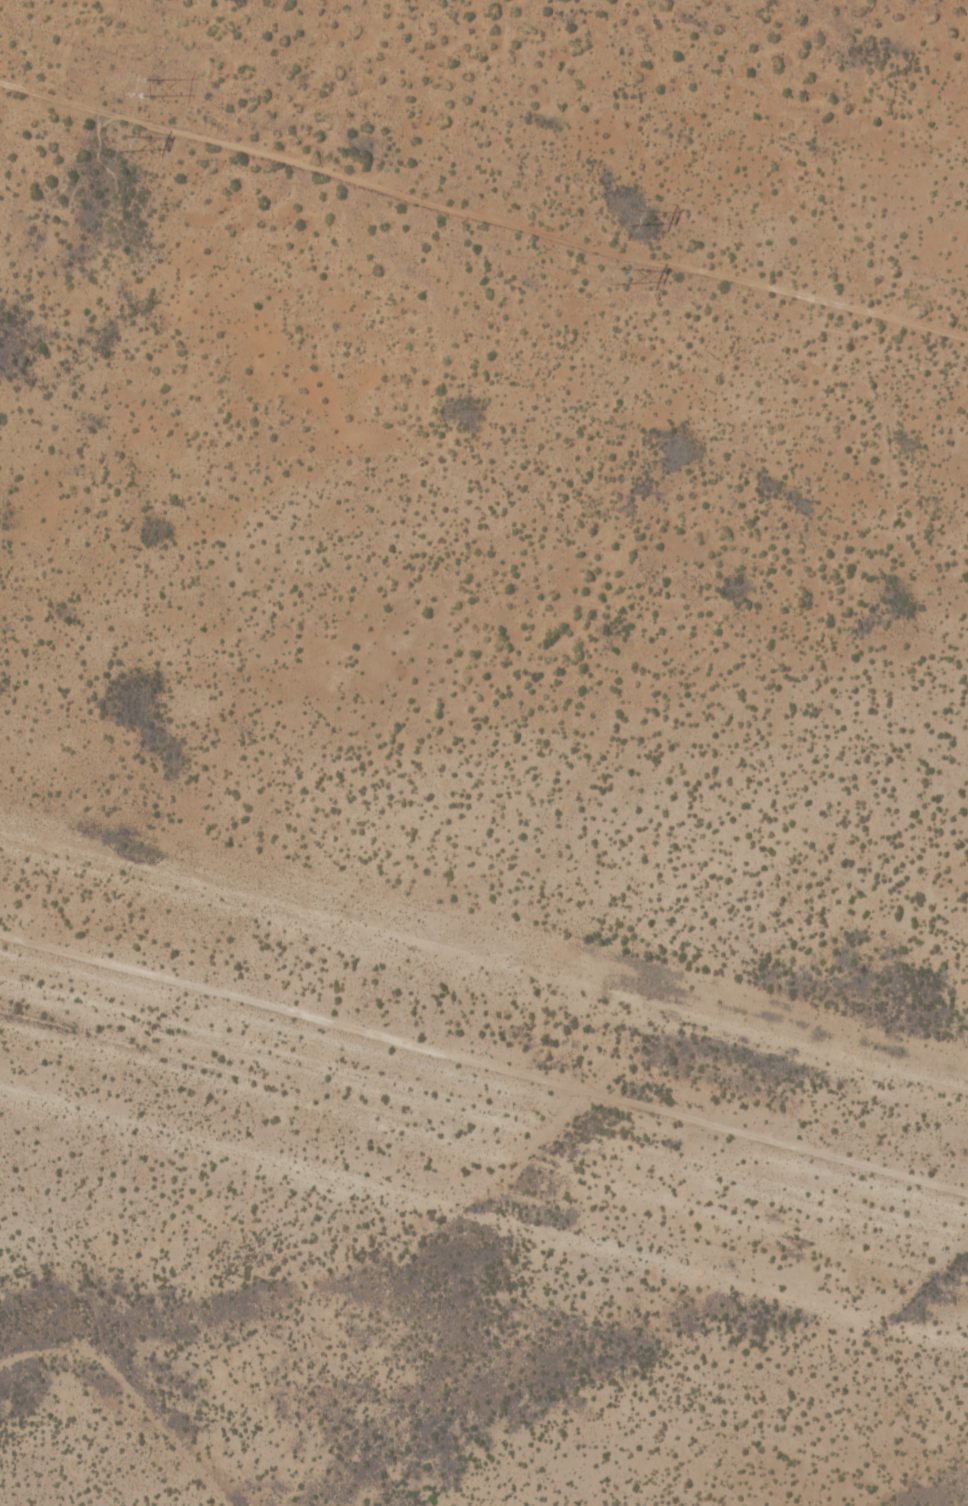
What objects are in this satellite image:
power tower: (132, 84)
power tower: (117, 142)
road: (484, 195)
power tower: (628, 216)
power tower: (612, 276)
road: (484, 1059)

